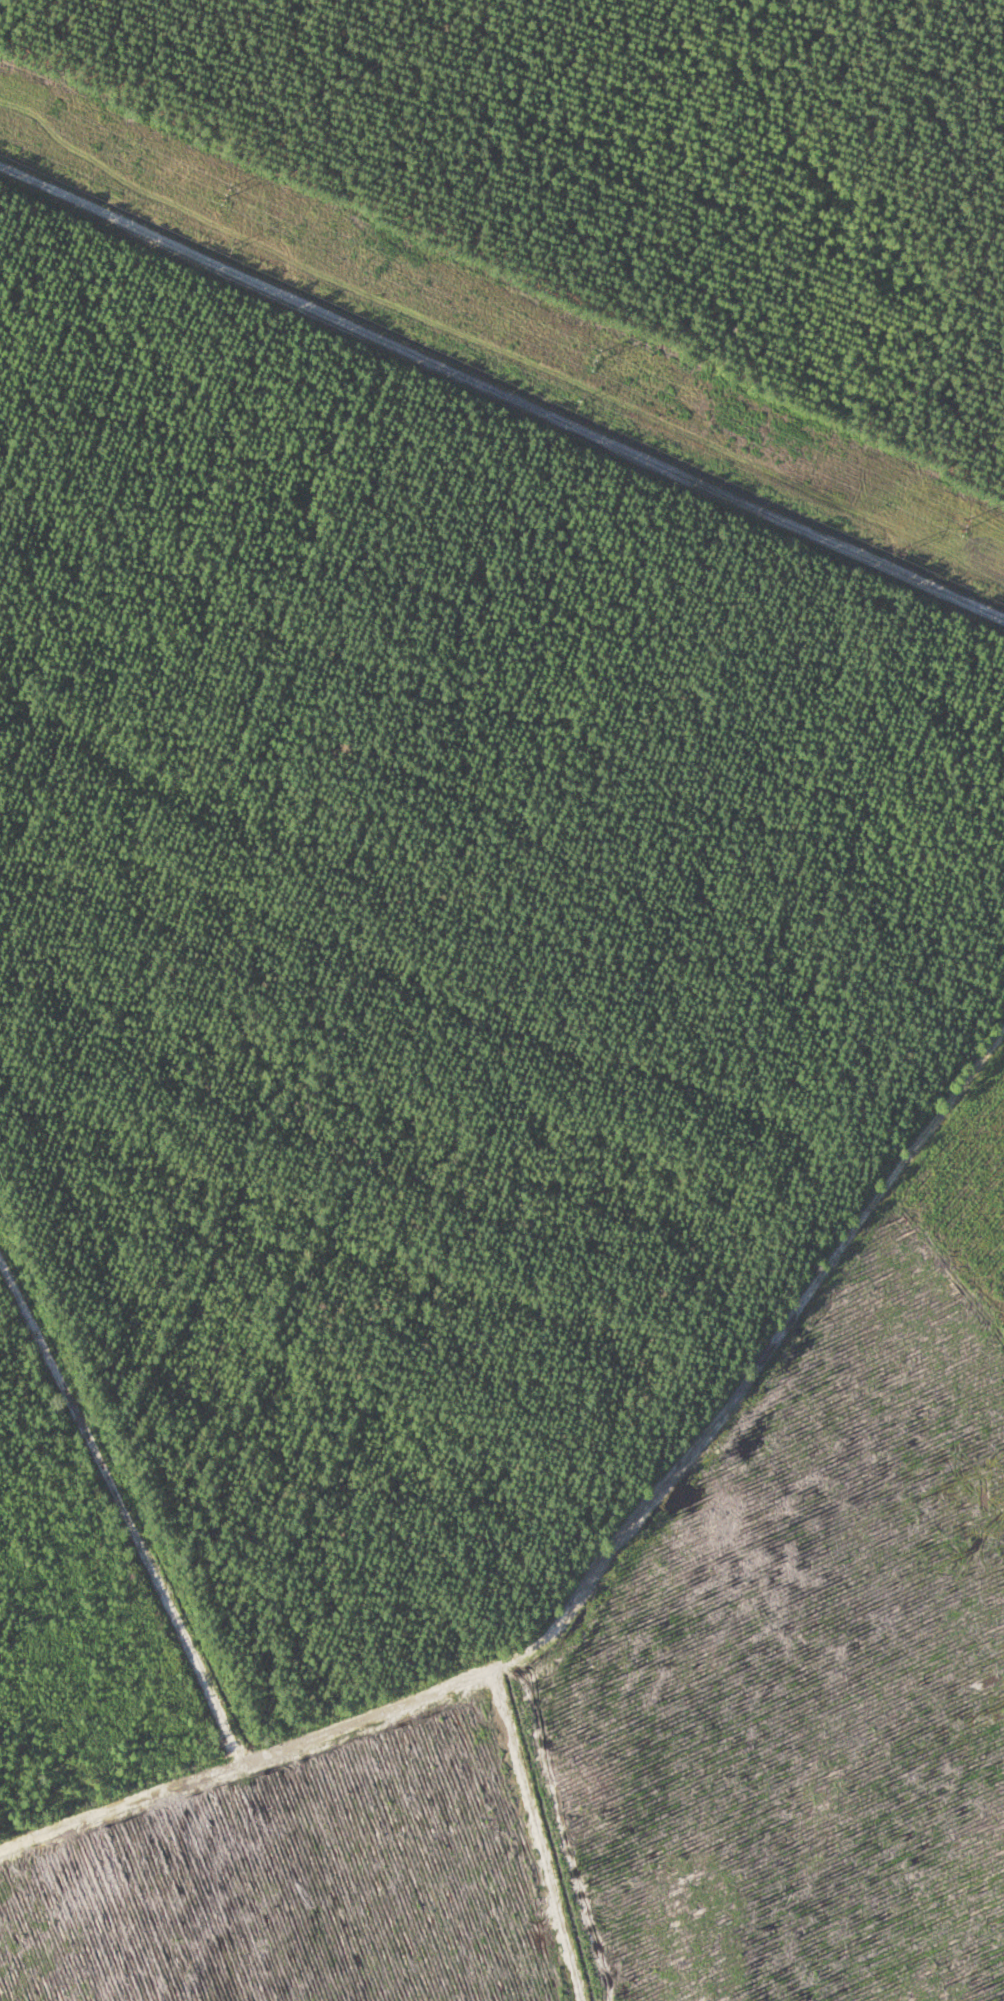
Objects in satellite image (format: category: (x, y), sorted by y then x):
power tower: (218, 194)
power tower: (228, 250)
power tower: (588, 357)
power tower: (575, 405)
power tower: (959, 524)
power tower: (902, 552)

